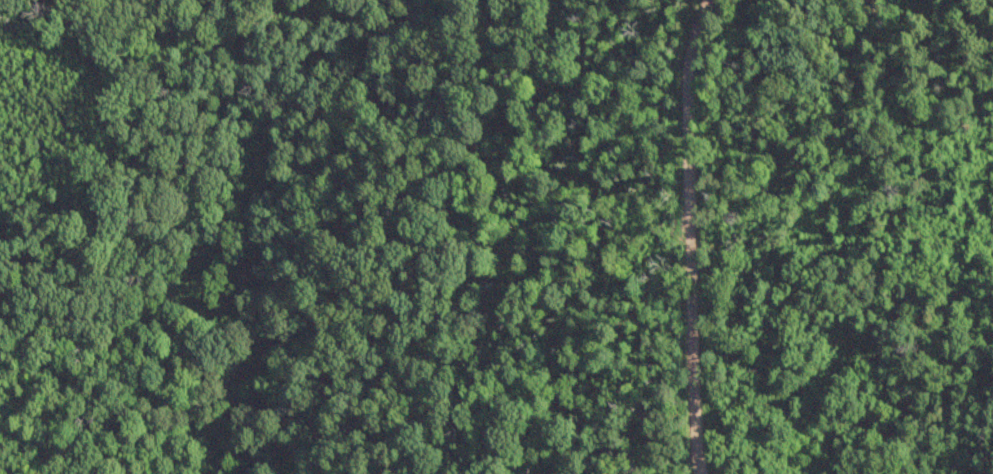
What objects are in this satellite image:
road: (684, 236)

